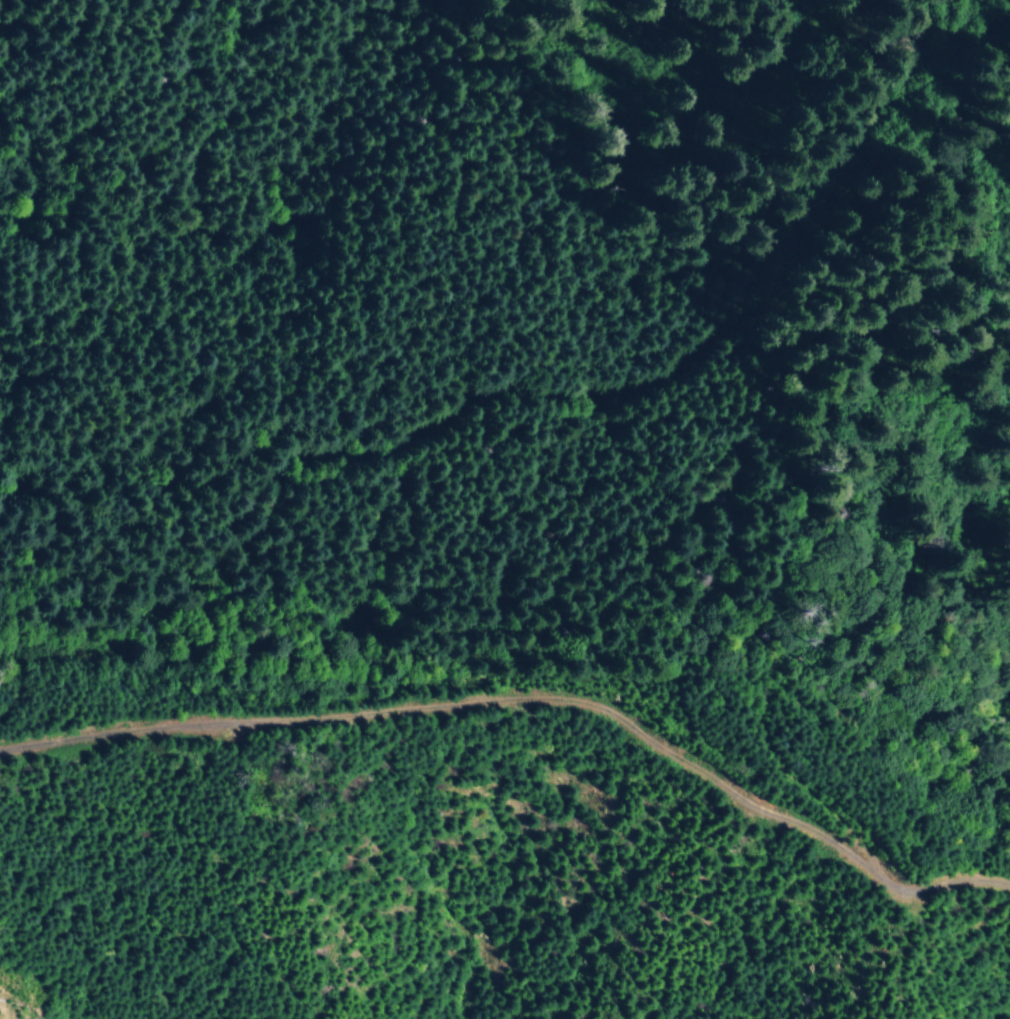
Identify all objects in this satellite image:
road: (771, 331)

